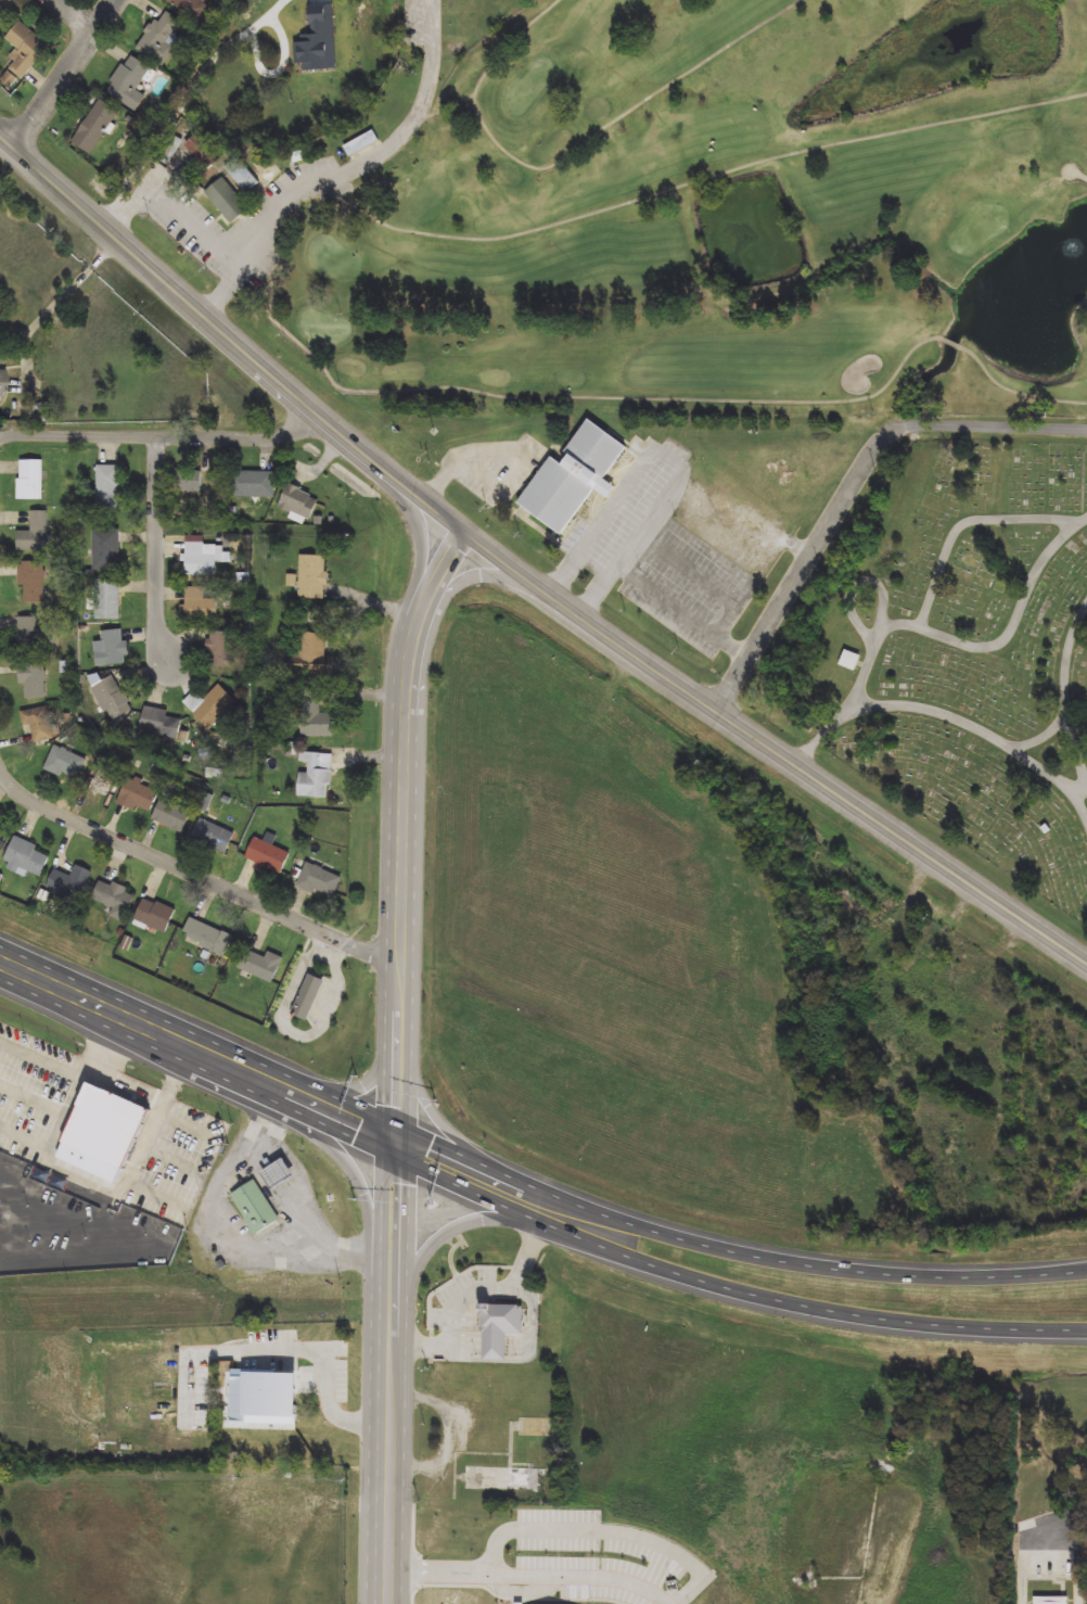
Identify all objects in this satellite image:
road: (319, 0)
building: (191, 7)
building: (1, 10)
road: (77, 14)
park: (461, 23)
building: (162, 37)
building: (318, 40)
building: (20, 53)
road: (277, 71)
road: (63, 72)
building: (130, 82)
road: (192, 86)
building: (95, 127)
building: (362, 143)
road: (575, 151)
road: (370, 160)
road: (1079, 174)
building: (243, 177)
road: (705, 179)
building: (227, 200)
park: (685, 217)
parking lot: (248, 221)
road: (196, 226)
park: (982, 228)
building: (2, 381)
road: (686, 398)
road: (162, 432)
road: (519, 447)
road: (675, 459)
parking lot: (497, 464)
building: (573, 478)
building: (30, 480)
building: (190, 481)
building: (253, 484)
building: (108, 486)
road: (852, 487)
road: (603, 489)
building: (298, 502)
road: (964, 523)
building: (35, 534)
road: (158, 544)
building: (107, 549)
parking lot: (662, 551)
building: (203, 558)
road: (420, 562)
road: (521, 576)
building: (312, 577)
road: (708, 581)
building: (31, 583)
road: (860, 585)
road: (448, 596)
building: (107, 600)
building: (201, 604)
road: (686, 612)
building: (33, 636)
road: (975, 648)
building: (112, 649)
building: (220, 650)
building: (312, 655)
park: (968, 657)
building: (849, 662)
building: (34, 680)
road: (1066, 692)
building: (112, 699)
building: (218, 705)
road: (939, 712)
building: (316, 721)
building: (161, 723)
building: (38, 725)
road: (1046, 736)
building: (66, 764)
building: (316, 776)
building: (105, 784)
building: (139, 795)
road: (1080, 802)
building: (172, 815)
building: (213, 837)
building: (1, 843)
building: (267, 857)
building: (27, 858)
road: (195, 871)
building: (319, 882)
building: (71, 883)
building: (114, 899)
building: (155, 915)
building: (207, 938)
building: (260, 966)
building: (308, 995)
road: (300, 1033)
road: (199, 1052)
road: (40, 1060)
road: (400, 1061)
road: (365, 1080)
road: (136, 1081)
road: (33, 1100)
road: (438, 1112)
road: (190, 1126)
building: (101, 1132)
road: (26, 1138)
traffic signals: (399, 1144)
road: (172, 1157)
road: (69, 1172)
building: (278, 1173)
gas station: (278, 1173)
road: (157, 1194)
road: (369, 1205)
building: (255, 1208)
road: (225, 1233)
road: (445, 1236)
road: (734, 1252)
road: (728, 1288)
road: (469, 1291)
parking lot: (459, 1295)
building: (497, 1326)
road: (524, 1346)
road: (284, 1348)
parking lot: (260, 1366)
building: (263, 1400)
road: (453, 1429)
building: (528, 1429)
building: (312, 1435)
building: (511, 1474)
road: (1067, 1523)
road: (608, 1529)
road: (412, 1553)
parking lot: (593, 1557)
road: (532, 1575)
building: (1056, 1582)
road: (519, 1591)

